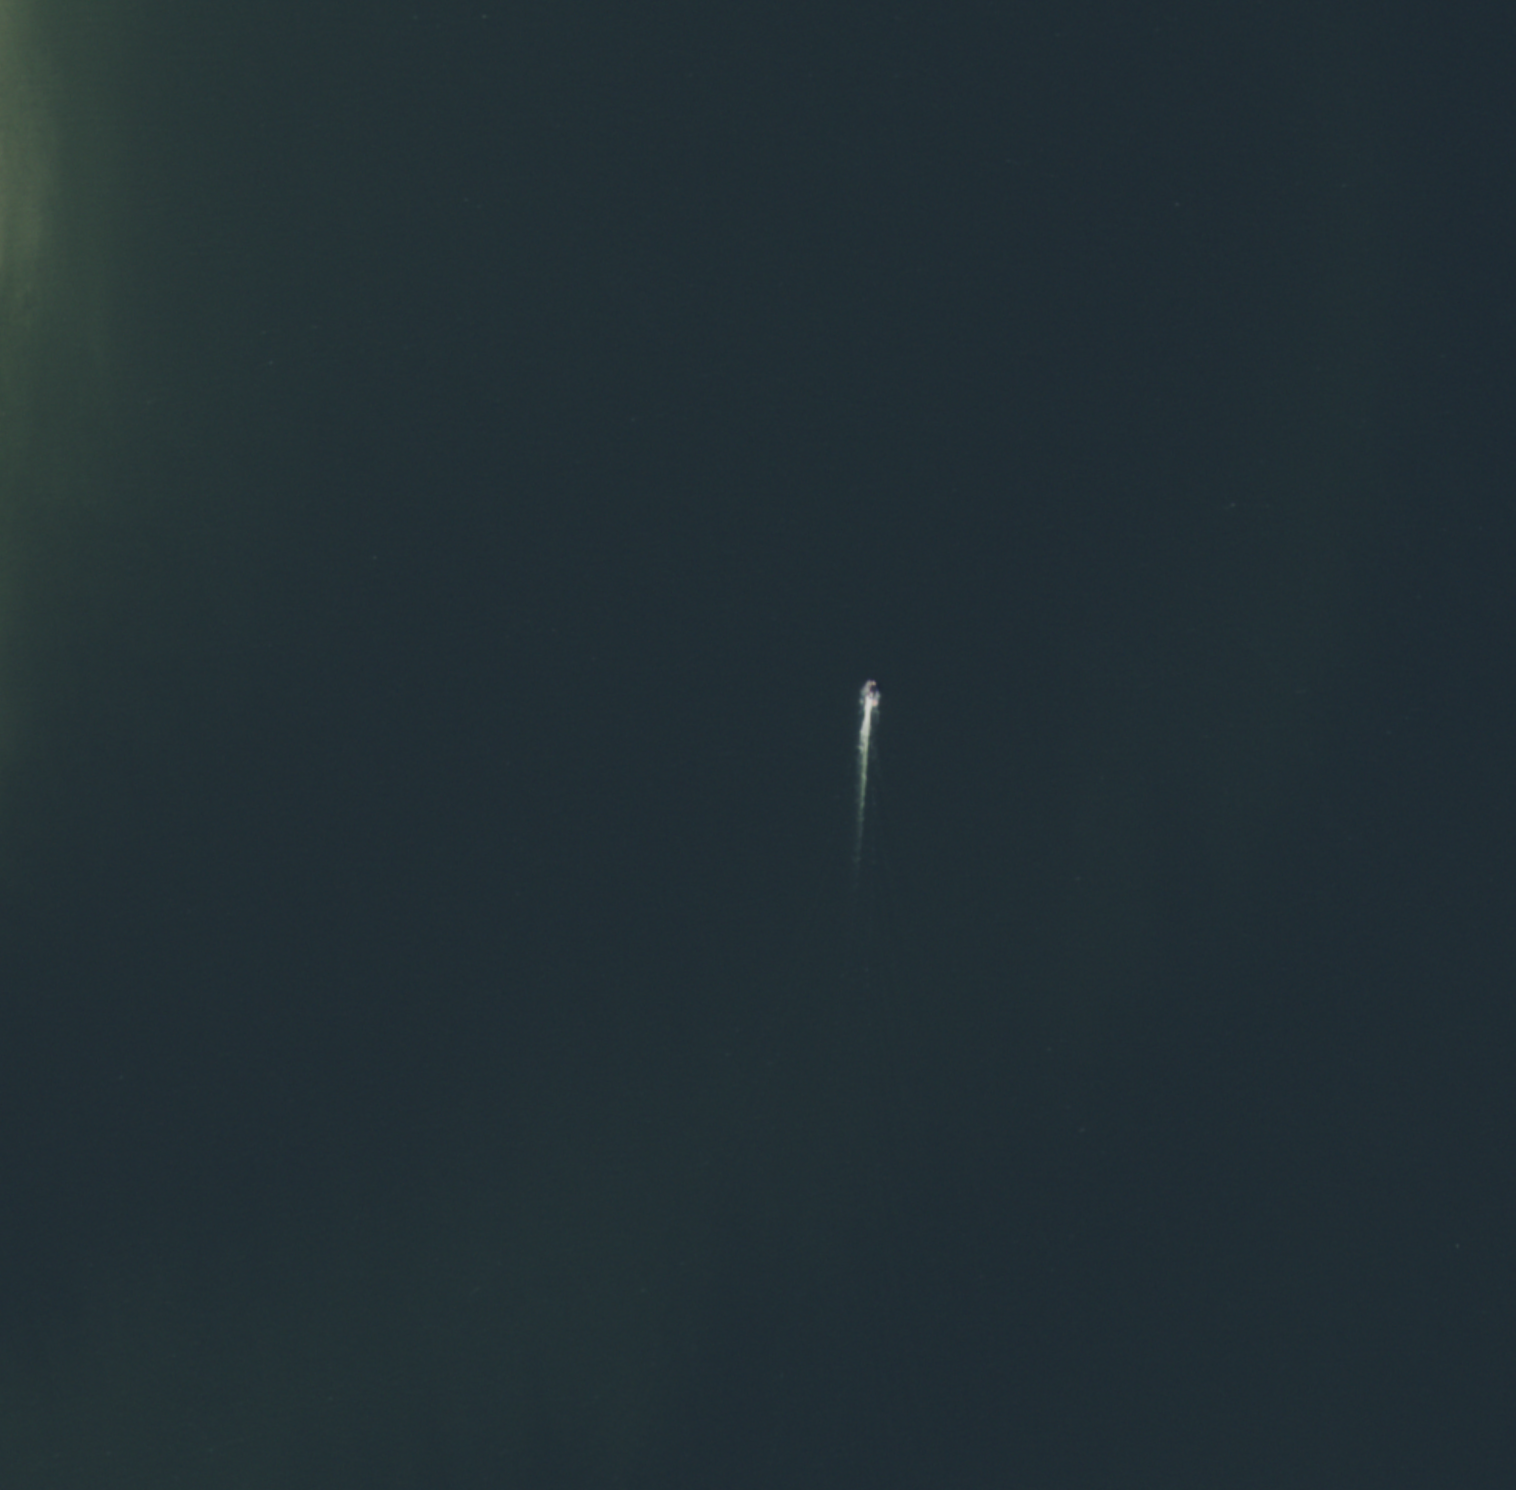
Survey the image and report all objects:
river: (1486, 1189)

